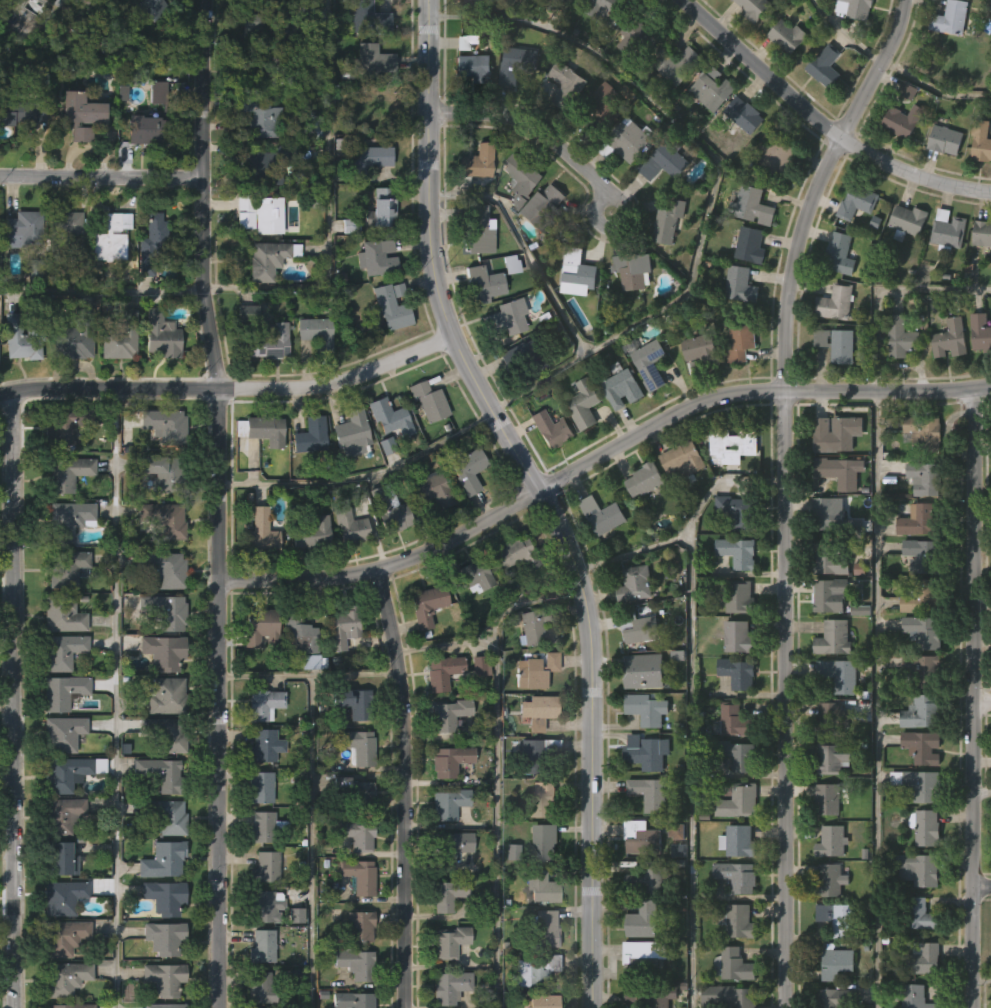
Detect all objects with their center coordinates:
building: (683, 0)
building: (83, 1)
building: (60, 4)
building: (151, 7)
building: (605, 9)
building: (753, 9)
building: (854, 9)
building: (243, 14)
building: (715, 14)
building: (473, 16)
building: (366, 18)
building: (950, 18)
building: (270, 21)
building: (520, 25)
building: (566, 25)
building: (60, 28)
building: (146, 35)
building: (787, 36)
road: (842, 37)
building: (642, 38)
building: (847, 43)
building: (600, 45)
building: (748, 45)
building: (989, 46)
building: (370, 60)
building: (947, 60)
building: (515, 63)
building: (676, 64)
building: (471, 65)
building: (824, 65)
building: (249, 68)
building: (268, 68)
building: (783, 79)
building: (633, 81)
building: (462, 84)
building: (564, 84)
building: (710, 87)
road: (932, 90)
building: (159, 92)
building: (366, 99)
building: (512, 106)
building: (602, 107)
building: (821, 108)
building: (469, 109)
building: (19, 110)
building: (77, 112)
building: (742, 113)
building: (258, 115)
building: (901, 120)
road: (819, 125)
building: (562, 128)
building: (147, 129)
road: (529, 131)
building: (706, 133)
building: (631, 136)
building: (945, 139)
building: (980, 139)
building: (602, 145)
building: (21, 156)
building: (77, 157)
building: (664, 158)
building: (363, 159)
building: (480, 159)
building: (775, 159)
building: (897, 163)
building: (267, 166)
building: (141, 172)
road: (721, 176)
road: (102, 178)
building: (520, 178)
building: (941, 182)
building: (627, 184)
building: (978, 185)
building: (772, 199)
building: (364, 200)
road: (329, 201)
building: (473, 204)
building: (660, 205)
building: (861, 205)
building: (754, 206)
building: (379, 208)
building: (549, 211)
building: (258, 212)
building: (907, 220)
building: (517, 221)
building: (667, 221)
building: (20, 227)
building: (60, 229)
building: (475, 229)
road: (618, 229)
building: (947, 230)
building: (981, 232)
building: (108, 236)
building: (149, 238)
building: (852, 244)
building: (750, 245)
road: (523, 246)
building: (540, 246)
building: (839, 253)
building: (375, 256)
building: (268, 258)
building: (904, 261)
building: (66, 264)
building: (664, 264)
building: (35, 268)
building: (632, 269)
building: (576, 272)
building: (945, 274)
building: (150, 275)
building: (980, 276)
building: (107, 279)
building: (482, 282)
building: (739, 284)
road: (981, 287)
road: (101, 289)
building: (373, 299)
building: (262, 301)
building: (835, 301)
building: (390, 305)
building: (629, 312)
building: (506, 316)
building: (574, 316)
building: (480, 324)
building: (980, 331)
building: (314, 332)
building: (159, 333)
building: (261, 334)
building: (72, 336)
building: (20, 337)
building: (119, 337)
building: (901, 337)
building: (950, 338)
building: (740, 341)
building: (837, 344)
building: (388, 348)
building: (700, 353)
building: (243, 354)
building: (523, 357)
building: (501, 360)
building: (647, 362)
building: (312, 374)
building: (978, 375)
building: (117, 378)
building: (157, 378)
building: (897, 379)
building: (18, 381)
building: (946, 381)
building: (265, 383)
building: (736, 383)
building: (621, 384)
building: (68, 386)
building: (833, 386)
road: (229, 392)
building: (698, 392)
building: (526, 398)
building: (427, 401)
building: (583, 404)
building: (646, 406)
building: (389, 416)
building: (66, 423)
building: (163, 425)
building: (549, 428)
building: (263, 429)
building: (618, 431)
building: (350, 432)
building: (923, 432)
building: (835, 433)
building: (308, 435)
building: (425, 442)
building: (732, 444)
building: (580, 446)
building: (386, 458)
road: (597, 459)
building: (682, 462)
building: (469, 467)
building: (547, 471)
building: (839, 471)
building: (65, 472)
building: (261, 472)
building: (159, 473)
building: (348, 474)
road: (359, 474)
building: (306, 477)
building: (924, 478)
building: (644, 479)
building: (729, 487)
building: (434, 489)
road: (783, 491)
road: (535, 496)
building: (678, 502)
road: (217, 503)
building: (388, 511)
building: (735, 511)
building: (464, 512)
building: (831, 512)
building: (601, 515)
building: (66, 519)
building: (164, 519)
building: (919, 521)
building: (640, 522)
building: (348, 526)
building: (259, 532)
building: (430, 532)
building: (310, 533)
road: (628, 551)
building: (737, 552)
building: (513, 553)
building: (389, 555)
building: (922, 555)
building: (598, 557)
building: (829, 559)
building: (65, 566)
building: (157, 568)
building: (347, 568)
building: (256, 573)
building: (308, 575)
building: (469, 577)
building: (633, 584)
building: (509, 593)
building: (829, 595)
building: (738, 597)
building: (920, 597)
building: (425, 607)
building: (161, 610)
building: (60, 614)
building: (470, 617)
building: (258, 627)
building: (341, 627)
building: (535, 628)
building: (638, 628)
building: (923, 632)
building: (298, 633)
building: (737, 637)
building: (833, 638)
road: (443, 642)
building: (915, 642)
building: (423, 646)
building: (61, 651)
building: (161, 651)
building: (311, 661)
building: (479, 665)
building: (256, 669)
building: (338, 669)
building: (534, 670)
building: (923, 670)
building: (441, 671)
road: (263, 672)
building: (640, 672)
building: (736, 673)
building: (842, 674)
building: (297, 677)
building: (60, 691)
building: (163, 695)
road: (114, 699)
road: (877, 699)
road: (977, 699)
road: (13, 700)
building: (305, 702)
building: (355, 703)
building: (265, 704)
road: (984, 706)
road: (691, 707)
building: (476, 708)
building: (646, 709)
building: (539, 710)
building: (921, 712)
building: (447, 714)
building: (827, 719)
building: (732, 721)
building: (163, 733)
building: (60, 734)
building: (262, 746)
building: (356, 746)
building: (921, 747)
building: (534, 753)
building: (645, 754)
building: (735, 755)
building: (831, 758)
building: (448, 760)
road: (494, 771)
building: (63, 773)
building: (163, 773)
building: (919, 784)
building: (258, 786)
road: (402, 787)
road: (983, 791)
building: (356, 792)
building: (649, 794)
road: (310, 797)
building: (830, 797)
building: (541, 798)
building: (737, 801)
building: (446, 804)
building: (62, 814)
building: (165, 816)
building: (262, 827)
building: (925, 828)
building: (354, 834)
building: (640, 839)
building: (543, 841)
building: (833, 841)
building: (737, 842)
building: (448, 847)
building: (57, 858)
building: (161, 860)
building: (263, 866)
building: (920, 868)
building: (357, 875)
building: (736, 877)
building: (649, 878)
building: (829, 881)
building: (539, 886)
road: (983, 889)
building: (508, 892)
building: (446, 894)
building: (61, 897)
building: (165, 897)
building: (265, 905)
building: (918, 915)
building: (841, 917)
building: (642, 921)
building: (737, 922)
building: (357, 924)
building: (543, 926)
building: (163, 937)
building: (63, 938)
building: (449, 940)
building: (260, 945)
building: (292, 956)
building: (643, 959)
building: (923, 959)
building: (354, 962)
building: (835, 964)
building: (732, 966)
building: (534, 969)
road: (983, 976)
building: (63, 977)
building: (162, 977)
building: (449, 985)
building: (258, 986)
building: (649, 994)
building: (727, 997)
building: (913, 997)
building: (835, 998)
building: (351, 999)
building: (542, 1000)
building: (69, 1005)
building: (161, 1005)

